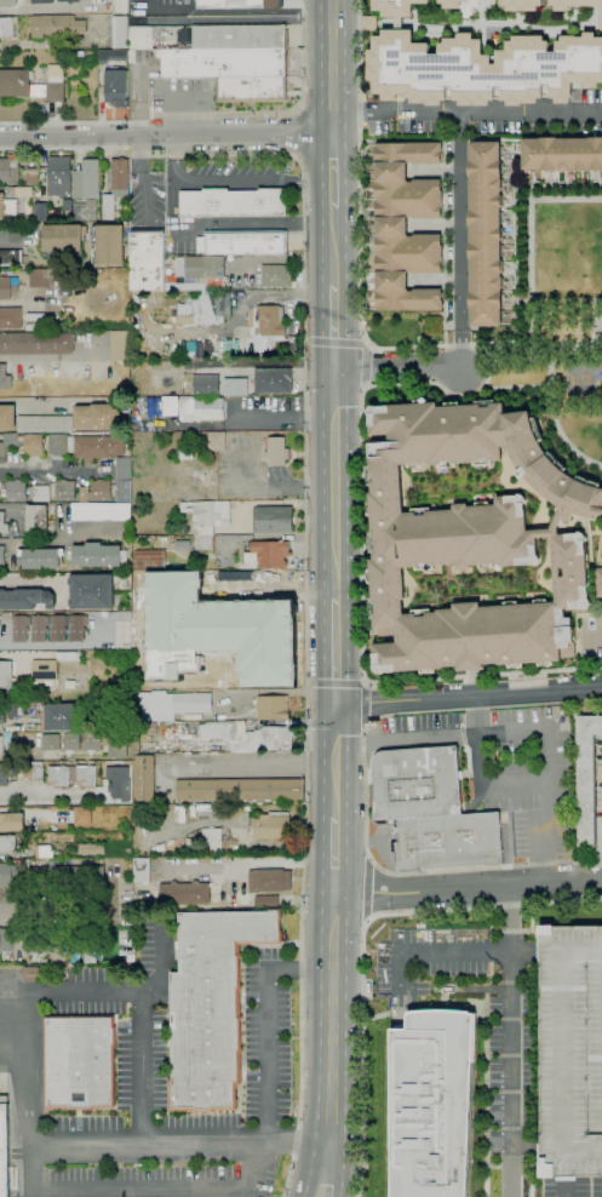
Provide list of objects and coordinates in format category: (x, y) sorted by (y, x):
building: (42, 1)
building: (68, 1)
building: (7, 2)
building: (240, 4)
building: (522, 5)
building: (574, 5)
building: (120, 6)
building: (461, 6)
road: (44, 7)
building: (396, 7)
building: (399, 23)
building: (7, 27)
building: (56, 27)
building: (119, 31)
building: (139, 36)
building: (239, 36)
road: (50, 42)
building: (111, 56)
building: (223, 62)
road: (332, 67)
building: (482, 69)
building: (55, 82)
building: (19, 84)
building: (116, 87)
building: (251, 88)
road: (362, 108)
road: (497, 111)
road: (203, 115)
road: (296, 133)
road: (166, 136)
building: (562, 154)
road: (332, 170)
building: (8, 171)
building: (30, 176)
building: (58, 176)
road: (142, 178)
building: (86, 181)
road: (233, 182)
building: (115, 187)
building: (21, 193)
road: (558, 199)
building: (231, 202)
building: (6, 205)
building: (67, 205)
building: (85, 211)
building: (40, 212)
road: (459, 220)
road: (515, 225)
building: (406, 227)
building: (486, 233)
road: (8, 235)
building: (61, 239)
building: (246, 242)
building: (107, 244)
road: (332, 245)
building: (11, 257)
building: (148, 262)
building: (200, 267)
road: (529, 268)
building: (275, 276)
building: (41, 277)
road: (22, 287)
building: (185, 287)
building: (6, 288)
building: (222, 304)
park: (557, 314)
building: (10, 317)
building: (266, 320)
building: (35, 321)
building: (432, 325)
road: (333, 327)
building: (36, 343)
road: (333, 343)
road: (365, 343)
road: (367, 345)
building: (120, 346)
road: (459, 349)
road: (544, 353)
road: (48, 357)
road: (366, 365)
road: (399, 367)
traffic signals: (333, 371)
building: (5, 378)
building: (273, 380)
building: (205, 384)
road: (411, 384)
road: (365, 385)
road: (516, 385)
building: (235, 386)
road: (458, 388)
building: (38, 389)
road: (35, 401)
building: (171, 407)
building: (200, 409)
building: (7, 417)
building: (97, 417)
road: (555, 420)
building: (45, 424)
building: (217, 441)
building: (22, 445)
building: (86, 446)
building: (276, 452)
building: (184, 453)
road: (45, 466)
building: (124, 474)
road: (334, 485)
building: (16, 491)
building: (64, 491)
building: (96, 491)
building: (40, 493)
building: (101, 511)
building: (274, 520)
building: (36, 521)
building: (206, 521)
building: (2, 523)
road: (304, 527)
building: (471, 539)
building: (182, 545)
building: (268, 554)
building: (96, 555)
building: (1, 557)
building: (41, 559)
building: (149, 561)
road: (27, 579)
building: (598, 582)
building: (90, 591)
building: (25, 598)
building: (21, 628)
building: (39, 628)
building: (58, 628)
building: (76, 628)
building: (122, 630)
building: (218, 631)
road: (336, 653)
building: (44, 660)
building: (6, 675)
road: (365, 682)
road: (308, 683)
road: (336, 683)
road: (469, 698)
building: (167, 705)
road: (363, 705)
building: (273, 708)
traffic signals: (337, 708)
building: (11, 710)
building: (555, 714)
building: (59, 717)
building: (1, 720)
road: (336, 724)
road: (527, 731)
building: (145, 732)
building: (248, 737)
road: (359, 740)
building: (51, 741)
building: (92, 741)
building: (71, 743)
road: (477, 743)
building: (1, 745)
building: (116, 745)
road: (336, 754)
road: (257, 767)
building: (35, 772)
parking lot: (510, 772)
building: (4, 775)
building: (58, 777)
building: (85, 777)
building: (143, 779)
building: (586, 779)
building: (115, 781)
building: (417, 783)
road: (515, 787)
building: (240, 790)
road: (336, 791)
building: (203, 811)
building: (82, 815)
building: (5, 821)
building: (271, 826)
building: (212, 841)
building: (448, 842)
building: (8, 843)
building: (189, 846)
building: (91, 849)
building: (44, 852)
road: (336, 855)
road: (371, 861)
building: (109, 863)
road: (540, 869)
building: (142, 870)
road: (417, 871)
building: (11, 872)
building: (38, 877)
building: (269, 880)
road: (469, 887)
road: (367, 890)
building: (184, 893)
building: (265, 901)
road: (365, 922)
building: (69, 937)
building: (6, 939)
road: (362, 940)
building: (47, 961)
building: (33, 973)
building: (50, 974)
road: (61, 996)
building: (211, 1007)
road: (509, 1018)
road: (334, 1019)
road: (268, 1049)
building: (571, 1052)
parking lot: (571, 1052)
building: (79, 1061)
road: (25, 1082)
road: (488, 1099)
building: (432, 1104)
road: (161, 1147)
road: (61, 1149)
building: (4, 1151)
road: (317, 1169)
road: (337, 1169)
road: (508, 1174)
road: (564, 1186)
road: (174, 1193)
road: (500, 1193)

